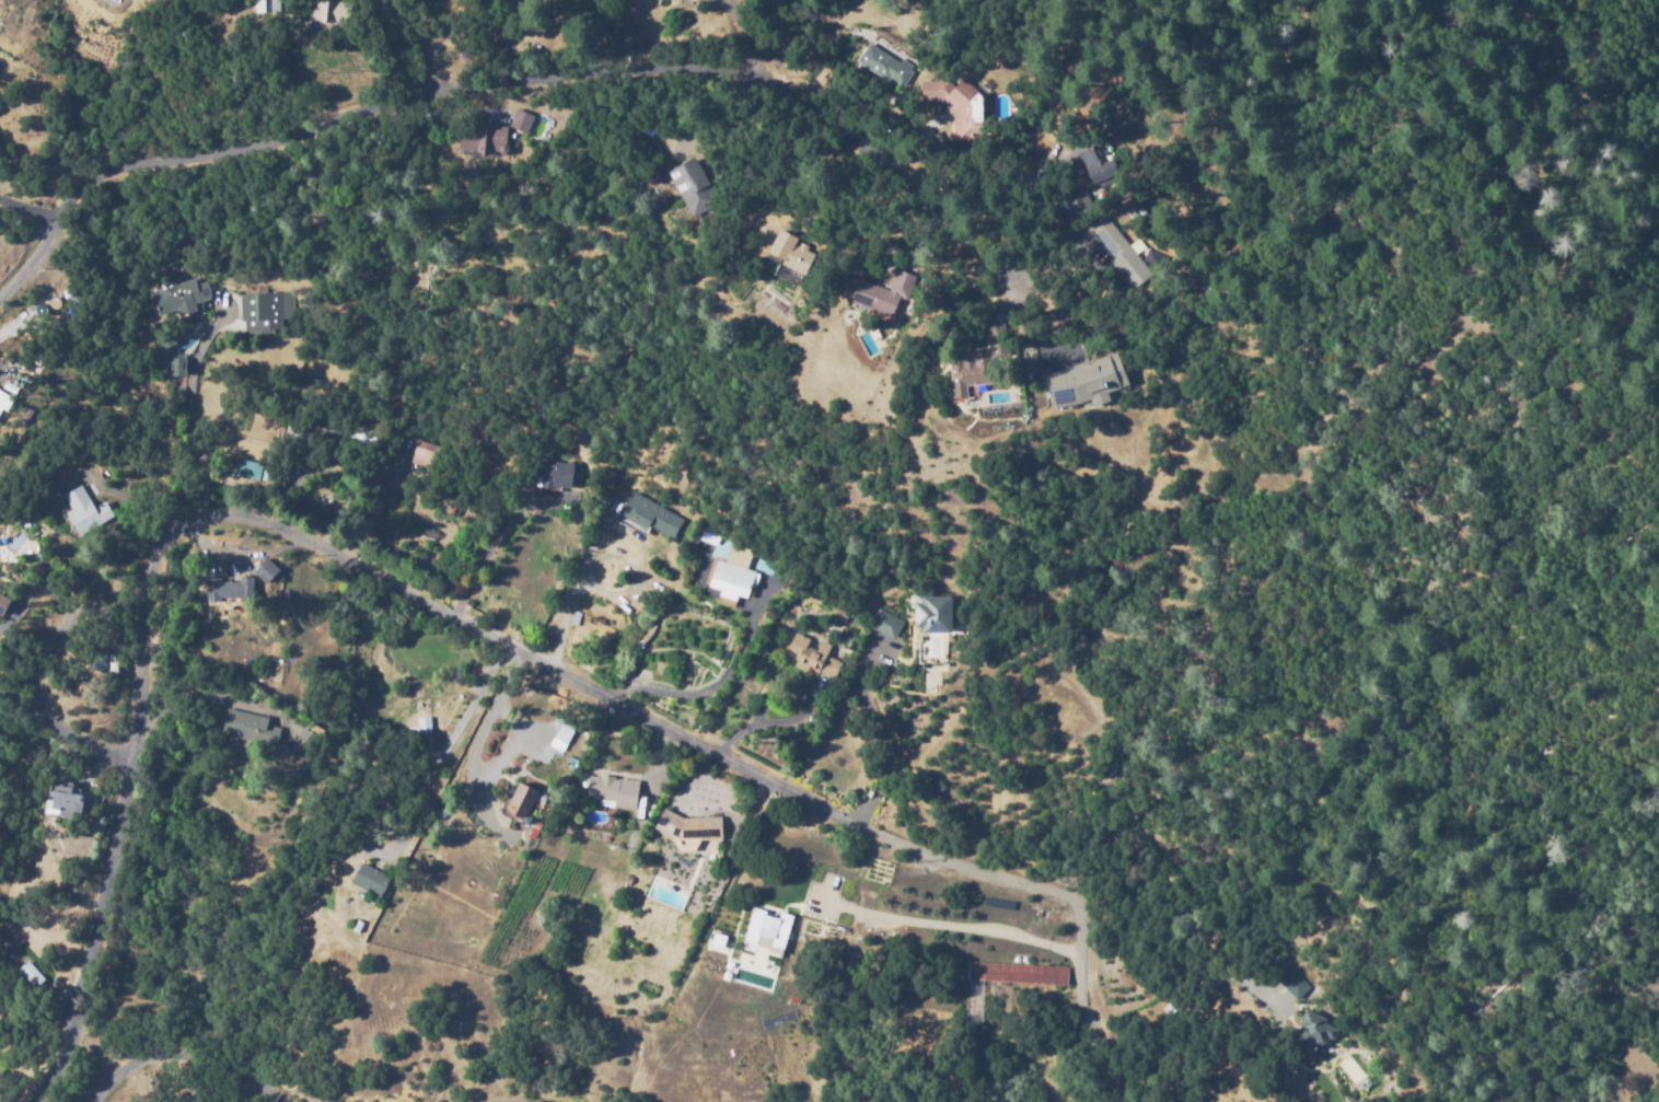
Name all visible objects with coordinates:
building: (267, 5)
building: (328, 14)
building: (19, 19)
road: (418, 38)
building: (885, 65)
road: (506, 79)
building: (959, 108)
building: (521, 121)
building: (483, 138)
building: (1098, 163)
building: (692, 186)
building: (1077, 205)
road: (33, 211)
building: (791, 251)
building: (1119, 253)
building: (883, 293)
building: (177, 297)
building: (266, 311)
building: (176, 364)
building: (971, 371)
building: (1087, 383)
building: (4, 401)
road: (189, 405)
building: (318, 434)
building: (425, 455)
building: (246, 468)
building: (556, 475)
road: (369, 500)
building: (86, 510)
building: (651, 514)
building: (707, 534)
road: (495, 540)
building: (733, 572)
building: (243, 584)
building: (2, 600)
road: (451, 608)
building: (839, 613)
building: (937, 614)
building: (884, 622)
building: (881, 645)
building: (274, 650)
building: (813, 656)
building: (251, 728)
road: (60, 729)
building: (421, 730)
building: (564, 733)
road: (451, 739)
building: (305, 741)
building: (614, 791)
building: (63, 798)
building: (522, 800)
building: (689, 828)
building: (371, 880)
building: (341, 894)
building: (358, 926)
building: (717, 937)
building: (1017, 973)
building: (31, 974)
building: (1288, 982)
building: (1171, 1012)
building: (1314, 1029)
road: (192, 1059)
road: (482, 1101)

